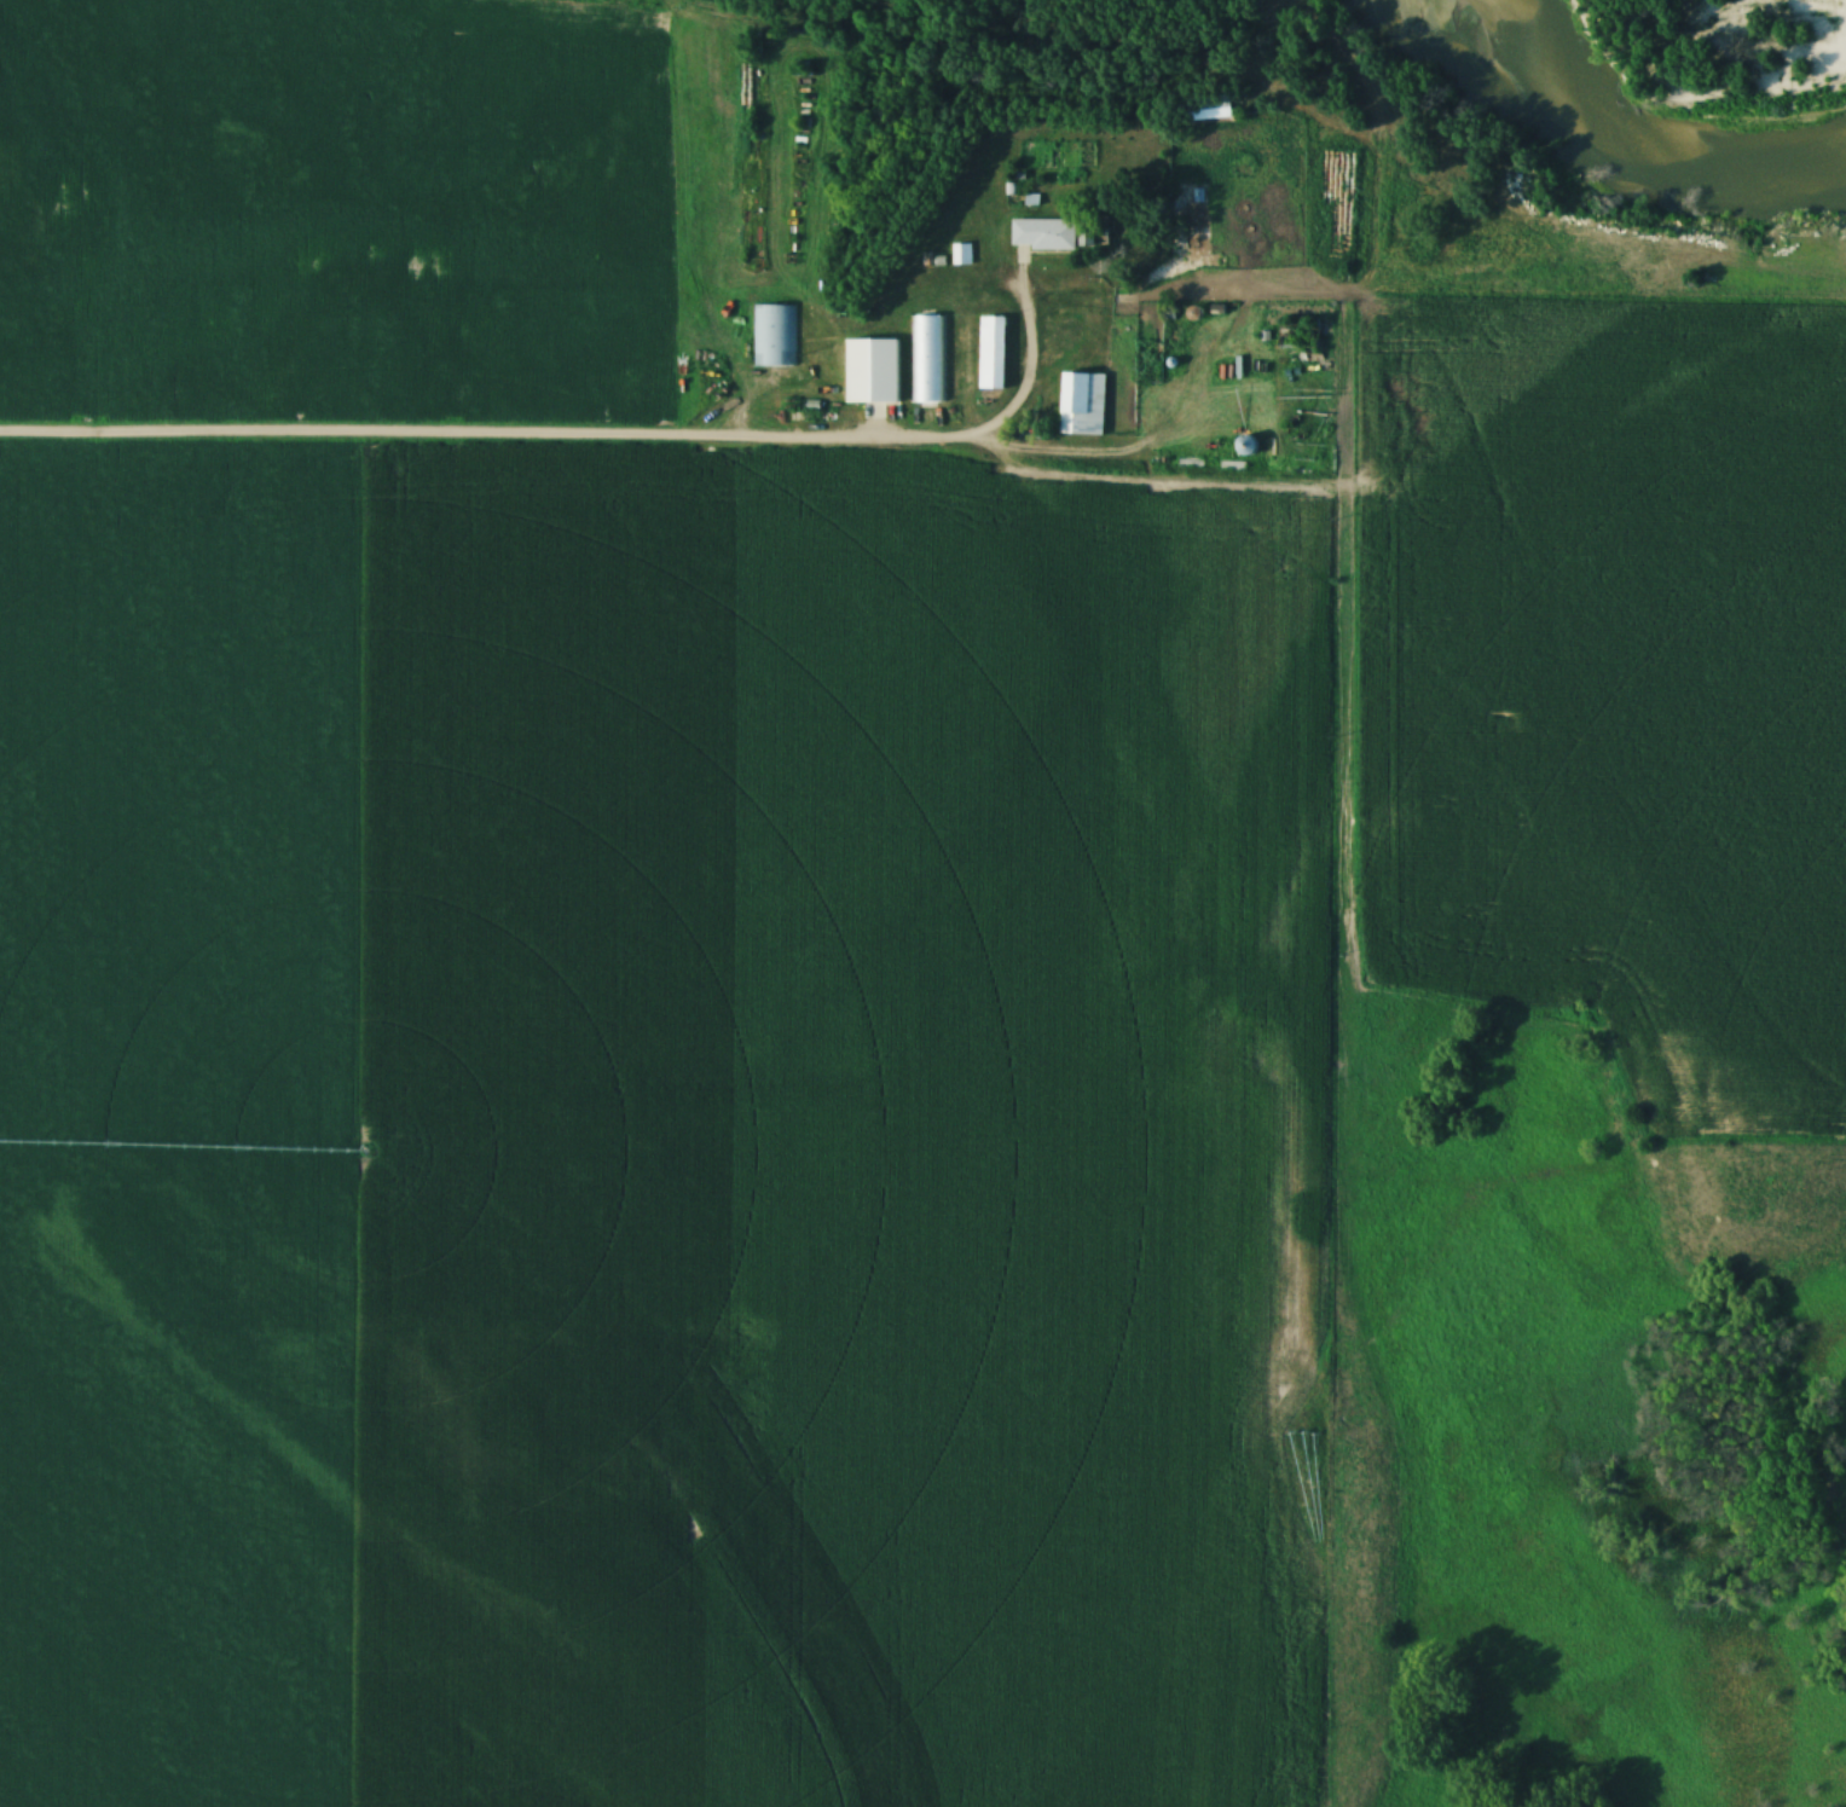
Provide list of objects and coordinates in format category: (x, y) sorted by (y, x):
building: (1208, 110)
river: (1621, 135)
building: (1042, 234)
building: (775, 336)
building: (1297, 337)
building: (990, 353)
building: (927, 360)
building: (872, 375)
building: (1081, 404)
road: (586, 444)
building: (1246, 445)
road: (1074, 463)

